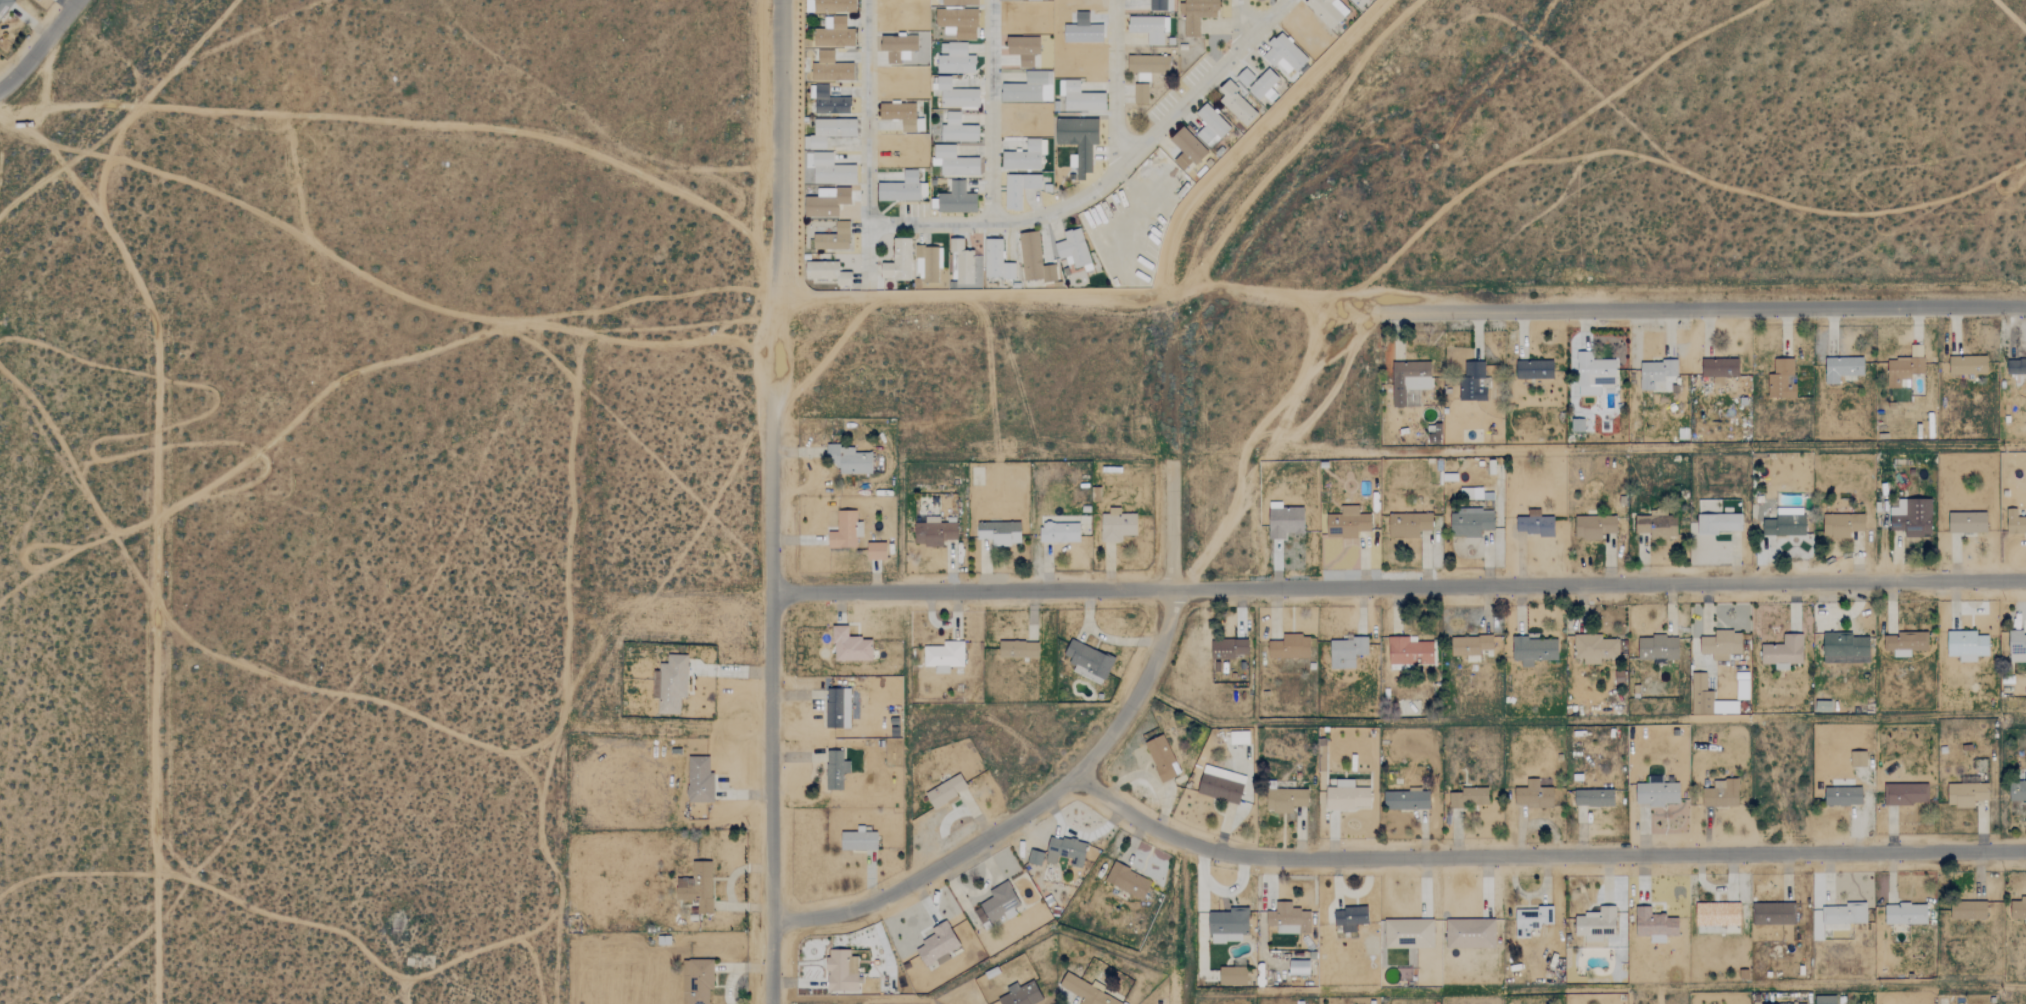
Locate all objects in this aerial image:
building: (1033, 0)
building: (1354, 1)
building: (959, 2)
building: (4, 5)
building: (1160, 5)
building: (834, 6)
building: (1327, 11)
building: (1198, 15)
building: (958, 23)
road: (1240, 23)
building: (1149, 28)
building: (834, 33)
road: (41, 47)
building: (896, 47)
building: (1024, 49)
building: (1284, 54)
building: (955, 59)
building: (1147, 66)
building: (831, 68)
building: (1245, 77)
building: (1264, 86)
building: (1029, 88)
building: (1141, 94)
building: (956, 95)
building: (1080, 97)
building: (829, 102)
building: (1236, 103)
building: (902, 116)
road: (407, 120)
building: (1210, 126)
building: (958, 129)
building: (828, 132)
road: (1250, 133)
road: (1143, 141)
building: (1079, 143)
building: (1187, 149)
building: (1023, 157)
building: (954, 162)
building: (831, 170)
building: (902, 189)
building: (1018, 189)
building: (957, 200)
building: (826, 202)
road: (1061, 207)
road: (931, 225)
building: (833, 238)
building: (1073, 248)
building: (1033, 259)
building: (898, 261)
building: (996, 261)
building: (962, 263)
building: (928, 264)
building: (842, 279)
road: (1082, 293)
road: (1705, 305)
building: (1967, 365)
building: (1905, 366)
building: (2015, 366)
building: (1719, 368)
building: (1842, 368)
building: (1534, 369)
building: (1655, 374)
building: (1595, 375)
building: (1781, 380)
building: (1473, 381)
building: (1408, 382)
building: (1576, 425)
building: (848, 459)
building: (1475, 494)
road: (775, 501)
building: (1911, 517)
building: (1284, 521)
building: (1785, 522)
building: (1967, 522)
building: (2015, 522)
building: (1346, 523)
building: (1470, 523)
building: (1408, 524)
building: (1534, 524)
building: (1718, 524)
building: (1841, 524)
building: (1116, 525)
building: (1656, 526)
building: (1594, 527)
building: (844, 531)
building: (933, 532)
building: (999, 532)
building: (1059, 533)
building: (875, 551)
road: (1399, 587)
building: (1906, 643)
building: (1721, 644)
building: (1966, 645)
building: (849, 646)
building: (1470, 646)
building: (2017, 646)
building: (1289, 647)
building: (1228, 648)
building: (1594, 648)
building: (1657, 648)
building: (1845, 648)
building: (1017, 649)
building: (1534, 650)
building: (1346, 652)
building: (1409, 652)
building: (1783, 652)
building: (943, 656)
building: (1088, 661)
building: (672, 684)
building: (1742, 686)
building: (882, 689)
building: (1708, 699)
building: (1822, 707)
building: (837, 708)
building: (1011, 737)
building: (1239, 738)
building: (1161, 759)
building: (1858, 759)
building: (835, 769)
road: (1075, 777)
building: (698, 780)
building: (1221, 784)
building: (944, 791)
building: (2017, 791)
building: (1533, 794)
building: (1656, 794)
building: (1721, 794)
building: (1906, 794)
building: (1966, 794)
building: (1346, 796)
building: (1843, 796)
building: (1468, 798)
building: (1594, 798)
building: (1284, 800)
building: (1406, 800)
building: (859, 838)
building: (1065, 850)
road: (1541, 853)
building: (1034, 856)
building: (1127, 880)
building: (696, 886)
building: (996, 904)
building: (2018, 907)
building: (1968, 910)
building: (1842, 911)
building: (1717, 913)
building: (1772, 913)
building: (1905, 914)
building: (1350, 917)
building: (1288, 918)
building: (1531, 919)
building: (1654, 924)
building: (1227, 925)
building: (1595, 925)
building: (1408, 933)
building: (1469, 933)
building: (937, 944)
building: (1298, 967)
building: (840, 970)
building: (1232, 976)
building: (697, 980)
building: (1086, 990)
building: (1021, 994)
building: (1825, 999)
building: (1769, 1003)

